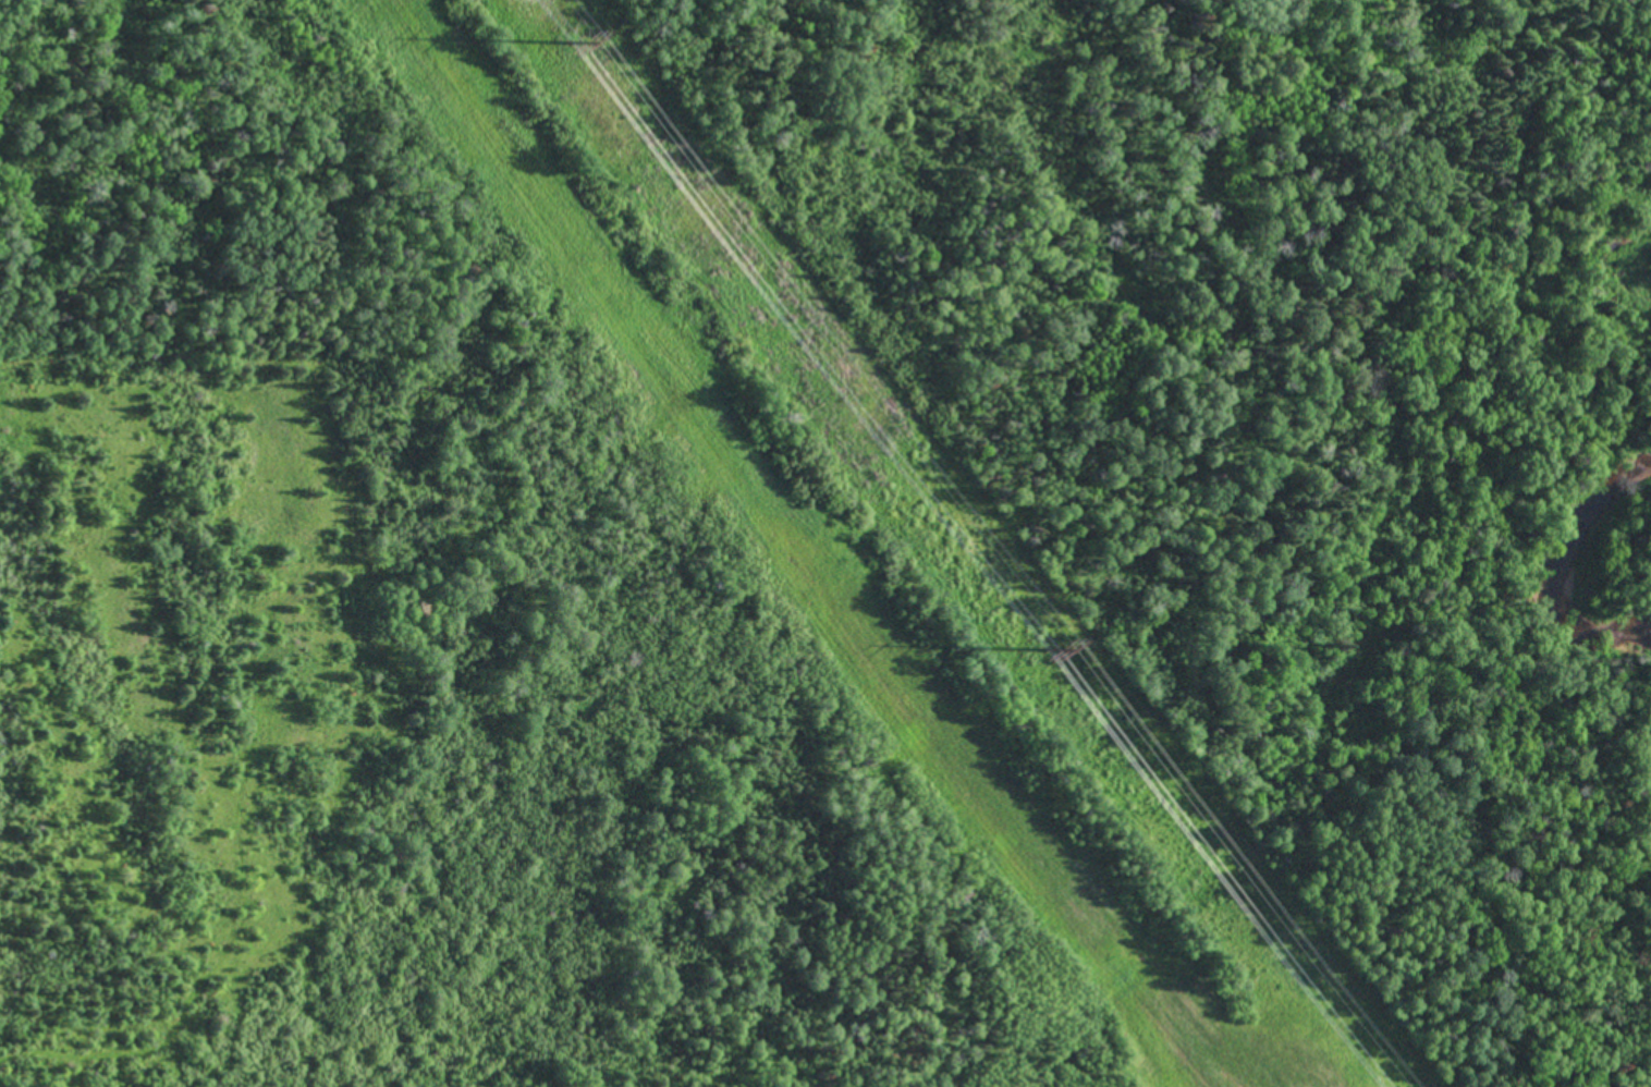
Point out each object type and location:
power tower: (568, 42)
power tower: (1040, 649)

